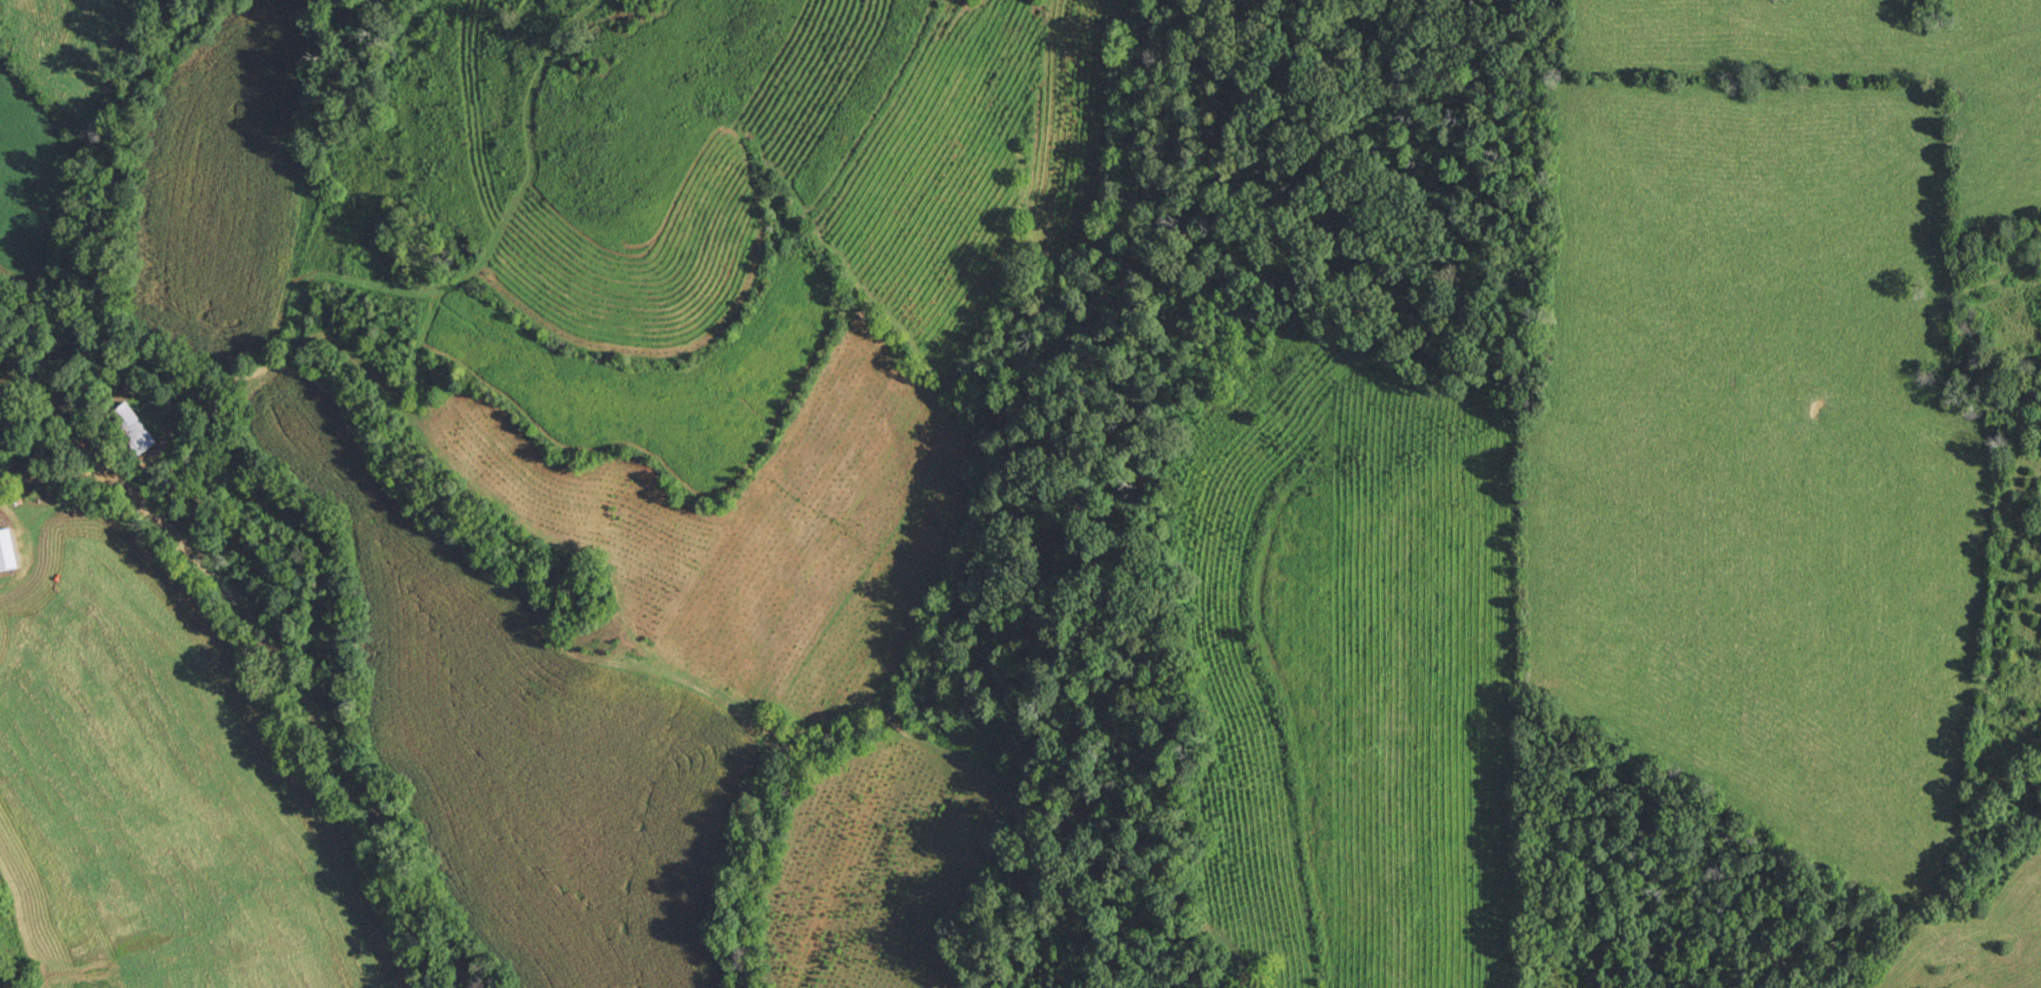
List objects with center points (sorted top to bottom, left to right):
building: (134, 428)
building: (8, 550)

